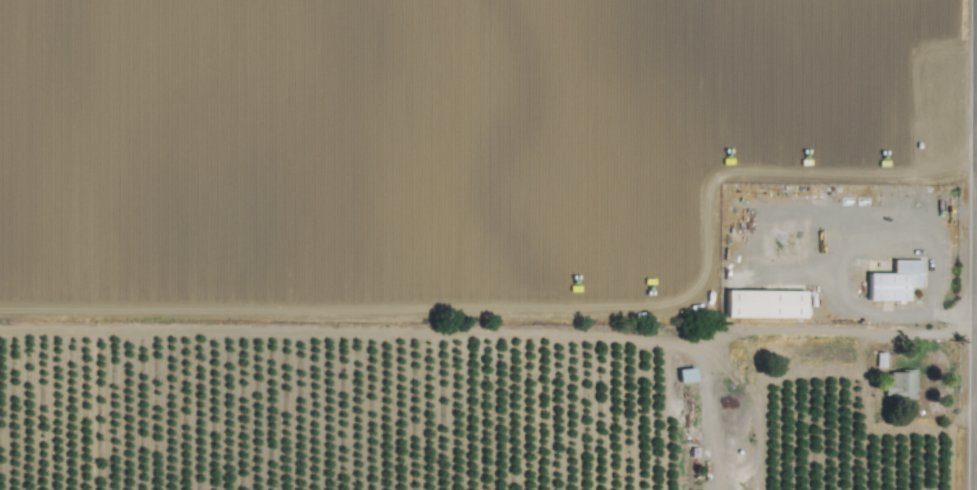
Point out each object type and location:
road: (955, 213)
road: (753, 218)
road: (832, 246)
building: (894, 280)
building: (764, 303)
road: (845, 336)
road: (975, 351)
building: (685, 374)
building: (900, 384)
road: (706, 413)

